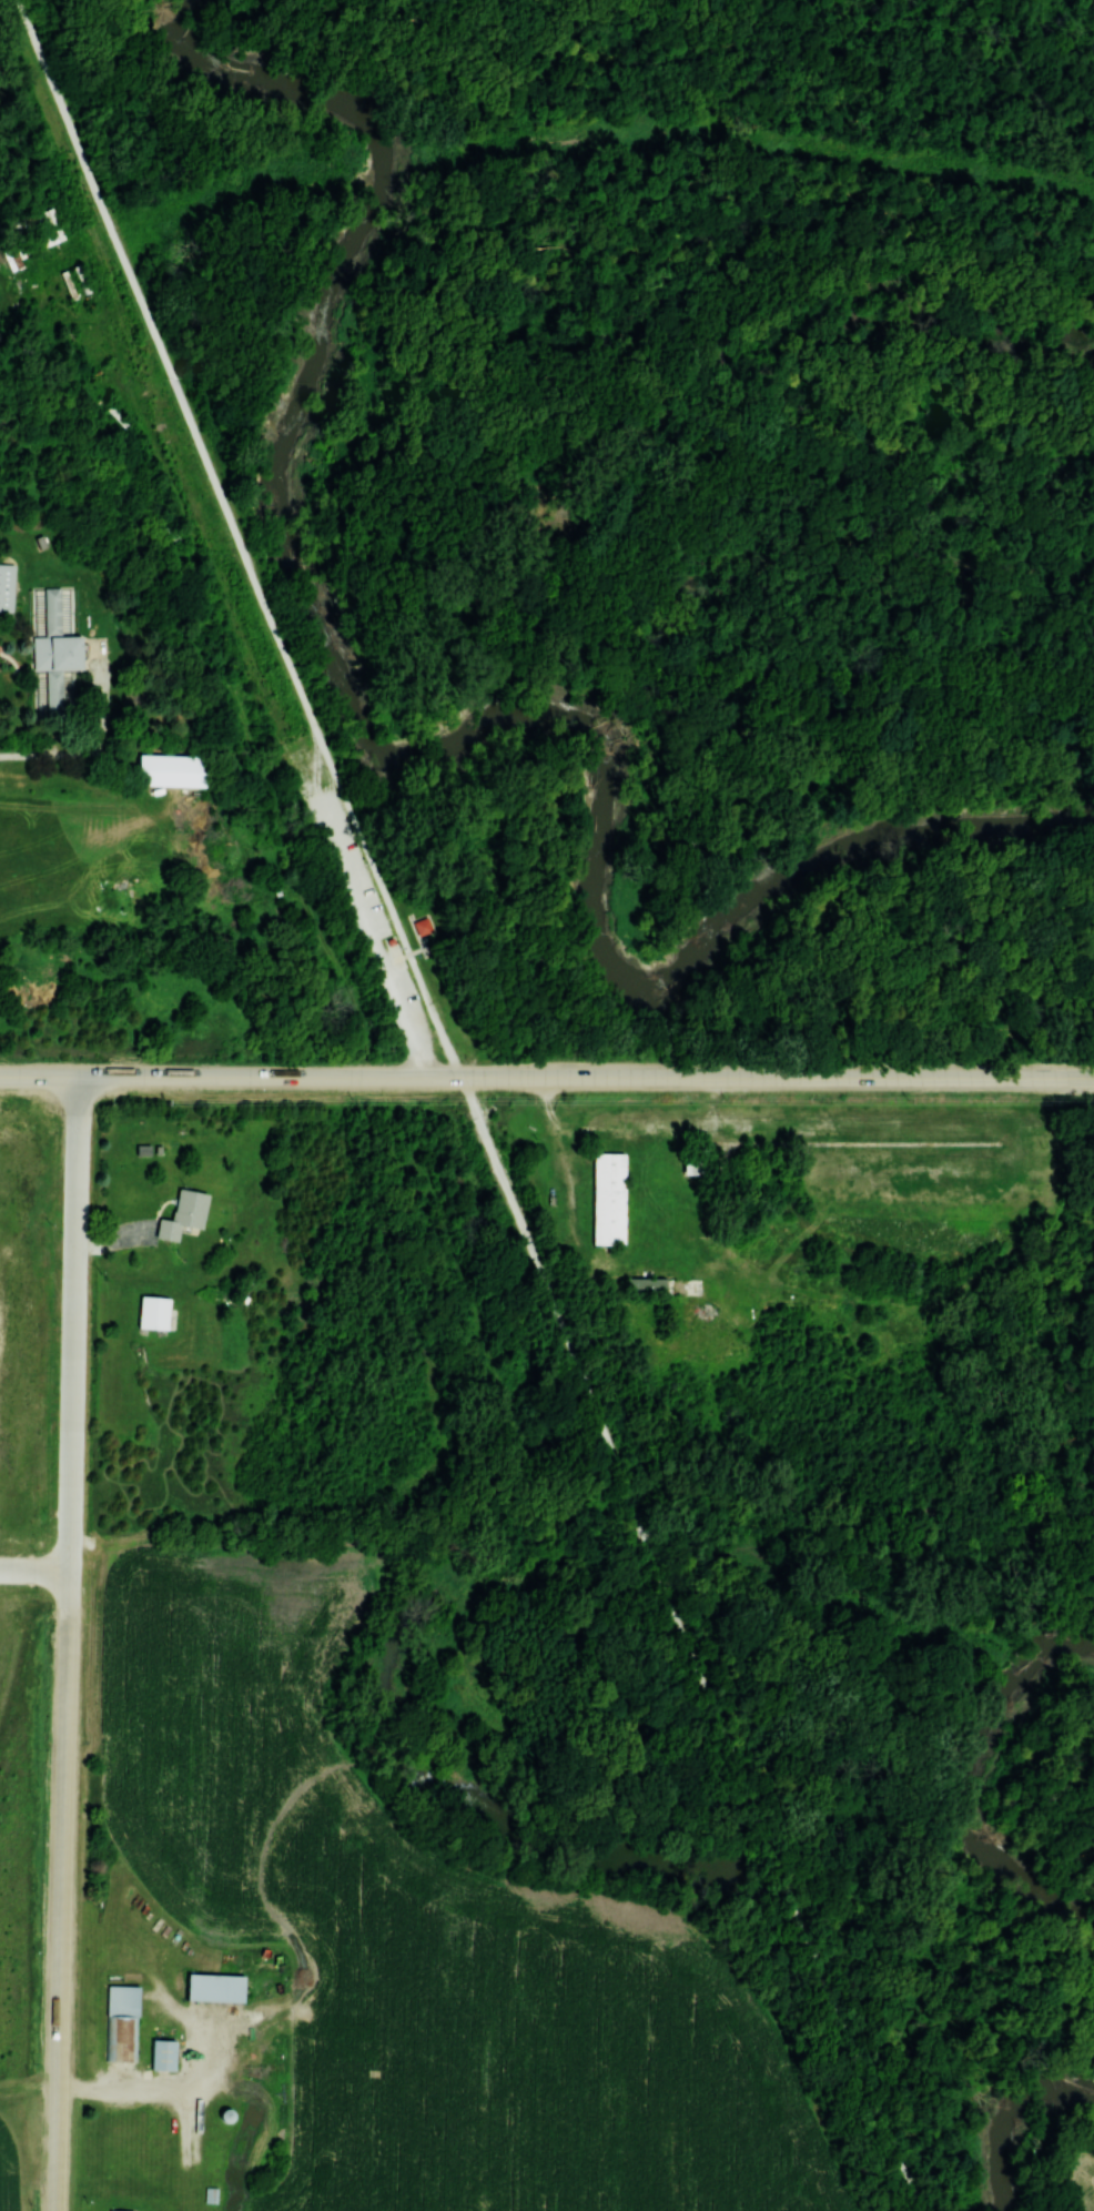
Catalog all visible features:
road: (599, 12)
road: (516, 164)
road: (852, 185)
road: (239, 537)
park: (600, 549)
building: (6, 586)
building: (52, 645)
river: (422, 757)
building: (170, 769)
building: (423, 925)
parking lot: (379, 936)
building: (391, 939)
road: (211, 1076)
road: (758, 1077)
building: (607, 1198)
building: (183, 1213)
building: (646, 1286)
road: (547, 1295)
building: (153, 1312)
road: (74, 1323)
road: (652, 1555)
road: (34, 1571)
river: (963, 1777)
road: (64, 1891)
road: (793, 1902)
building: (214, 1987)
building: (120, 2020)
building: (162, 2053)
river: (1006, 2113)
building: (119, 2210)

